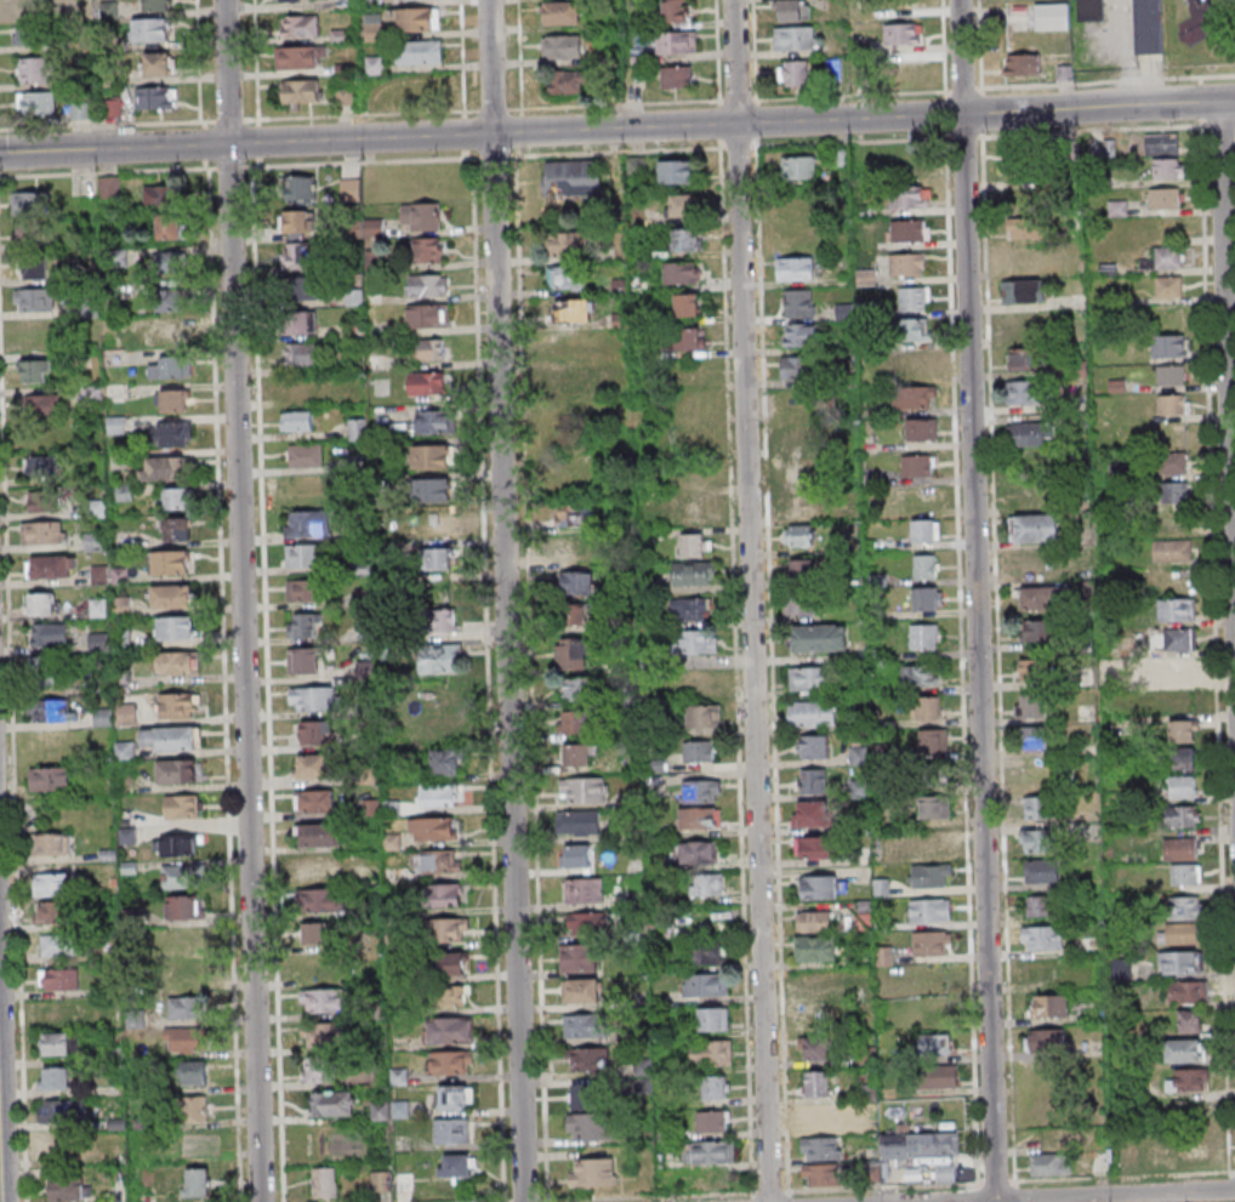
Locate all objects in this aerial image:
building: (294, 0)
building: (27, 5)
building: (156, 5)
building: (675, 10)
building: (793, 10)
building: (1089, 10)
building: (562, 12)
building: (1052, 16)
building: (416, 17)
building: (300, 25)
building: (374, 27)
building: (1148, 27)
building: (150, 29)
road: (1216, 29)
building: (28, 33)
building: (903, 34)
park: (1202, 34)
building: (795, 38)
building: (676, 41)
building: (562, 46)
building: (419, 51)
building: (301, 57)
building: (156, 63)
building: (1020, 64)
building: (909, 67)
building: (32, 69)
building: (795, 73)
building: (676, 76)
road: (1188, 76)
building: (567, 81)
building: (302, 91)
building: (154, 97)
building: (35, 103)
building: (79, 109)
road: (617, 127)
building: (1161, 143)
building: (1021, 161)
building: (797, 167)
building: (1169, 167)
building: (677, 171)
building: (573, 177)
building: (109, 187)
building: (300, 187)
building: (161, 195)
building: (1019, 195)
building: (911, 196)
building: (1165, 199)
building: (29, 201)
building: (682, 204)
building: (1117, 207)
building: (421, 216)
building: (300, 222)
building: (172, 226)
building: (372, 226)
building: (1023, 228)
building: (909, 230)
building: (33, 233)
building: (685, 238)
building: (569, 244)
building: (427, 250)
building: (296, 256)
building: (1168, 256)
building: (171, 262)
building: (907, 264)
building: (34, 267)
building: (796, 268)
building: (681, 272)
building: (567, 277)
building: (428, 285)
building: (1168, 286)
building: (301, 289)
building: (1021, 291)
building: (914, 297)
building: (33, 298)
building: (170, 298)
building: (799, 302)
building: (687, 304)
building: (573, 311)
building: (427, 315)
building: (300, 321)
building: (1025, 326)
building: (912, 329)
building: (166, 332)
building: (802, 335)
building: (692, 338)
building: (1169, 346)
building: (426, 349)
building: (302, 354)
building: (1026, 360)
building: (171, 368)
building: (793, 368)
building: (36, 371)
building: (1171, 375)
building: (567, 381)
building: (427, 383)
road: (1227, 384)
building: (301, 388)
building: (1020, 392)
building: (358, 394)
building: (915, 397)
building: (172, 400)
building: (42, 404)
building: (1172, 404)
building: (297, 421)
building: (434, 421)
building: (357, 428)
building: (922, 429)
building: (173, 433)
building: (1026, 433)
building: (798, 434)
building: (306, 455)
building: (432, 456)
building: (1173, 462)
building: (39, 465)
building: (918, 465)
building: (163, 468)
building: (432, 489)
building: (1176, 491)
building: (175, 497)
building: (42, 501)
building: (798, 506)
building: (689, 512)
building: (575, 514)
building: (308, 523)
building: (436, 523)
building: (177, 528)
building: (1035, 528)
building: (926, 529)
building: (41, 532)
building: (799, 535)
building: (695, 543)
building: (571, 546)
building: (1172, 549)
building: (302, 554)
building: (436, 558)
building: (170, 560)
building: (1031, 560)
building: (51, 565)
building: (924, 566)
building: (802, 569)
building: (693, 572)
building: (576, 582)
building: (303, 589)
building: (172, 596)
building: (928, 598)
building: (1041, 598)
road: (240, 600)
road: (505, 600)
road: (750, 600)
road: (975, 600)
building: (41, 603)
building: (801, 604)
building: (690, 608)
building: (1176, 609)
building: (579, 615)
building: (445, 620)
building: (303, 625)
building: (175, 627)
building: (1036, 631)
building: (49, 633)
building: (923, 636)
building: (820, 638)
building: (1180, 638)
building: (699, 640)
building: (98, 642)
building: (573, 653)
building: (440, 657)
building: (302, 660)
building: (177, 662)
building: (1178, 667)
building: (1032, 668)
building: (46, 670)
building: (365, 670)
building: (920, 674)
building: (808, 678)
building: (581, 688)
building: (439, 695)
building: (315, 697)
building: (177, 705)
building: (1029, 705)
building: (929, 707)
building: (51, 710)
building: (814, 712)
building: (126, 713)
building: (704, 714)
building: (575, 720)
building: (439, 728)
building: (1182, 730)
building: (317, 731)
building: (1032, 736)
building: (171, 737)
building: (933, 740)
building: (814, 746)
building: (699, 751)
building: (580, 754)
building: (1183, 759)
building: (445, 762)
building: (313, 765)
building: (177, 771)
building: (49, 777)
building: (813, 781)
building: (1182, 786)
building: (859, 788)
building: (584, 790)
building: (701, 791)
building: (439, 793)
building: (314, 801)
building: (182, 805)
building: (934, 807)
building: (1038, 807)
building: (808, 813)
building: (1183, 815)
building: (700, 818)
building: (579, 821)
building: (433, 828)
building: (319, 834)
building: (1035, 839)
building: (51, 843)
building: (175, 843)
building: (815, 847)
building: (1179, 848)
building: (935, 849)
building: (699, 851)
building: (577, 855)
building: (434, 860)
building: (317, 867)
building: (1042, 871)
building: (1185, 873)
building: (371, 875)
building: (182, 876)
building: (932, 876)
building: (50, 884)
building: (706, 884)
building: (823, 887)
building: (881, 887)
building: (584, 890)
building: (445, 894)
building: (319, 900)
building: (1040, 905)
building: (184, 906)
building: (1188, 906)
building: (932, 910)
building: (51, 912)
building: (815, 921)
building: (586, 922)
building: (449, 929)
building: (314, 933)
building: (1180, 933)
building: (1042, 936)
building: (186, 938)
building: (927, 942)
building: (58, 945)
building: (815, 947)
building: (707, 952)
building: (579, 957)
building: (1178, 962)
building: (449, 963)
building: (1121, 968)
building: (190, 970)
building: (58, 979)
building: (819, 981)
building: (705, 985)
building: (581, 990)
building: (1188, 992)
building: (449, 996)
building: (321, 999)
building: (1049, 1006)
building: (186, 1007)
building: (58, 1014)
building: (814, 1018)
building: (713, 1019)
building: (1191, 1020)
building: (582, 1025)
building: (449, 1029)
building: (323, 1033)
building: (183, 1038)
building: (1045, 1039)
building: (55, 1043)
building: (935, 1044)
building: (816, 1048)
building: (1185, 1049)
building: (711, 1052)
building: (587, 1059)
building: (450, 1061)
building: (320, 1071)
building: (193, 1072)
building: (938, 1076)
building: (55, 1077)
building: (1188, 1079)
building: (818, 1083)
building: (716, 1086)
building: (455, 1096)
building: (588, 1096)
building: (332, 1103)
building: (195, 1107)
building: (66, 1111)
building: (821, 1113)
building: (711, 1121)
building: (590, 1126)
building: (453, 1129)
building: (920, 1145)
building: (821, 1147)
building: (1193, 1150)
building: (707, 1152)
building: (1048, 1163)
building: (456, 1164)
building: (592, 1172)
building: (945, 1172)
building: (820, 1175)
building: (380, 1180)
building: (403, 1180)
building: (195, 1181)
building: (324, 1181)
building: (68, 1189)
road: (1114, 1195)

